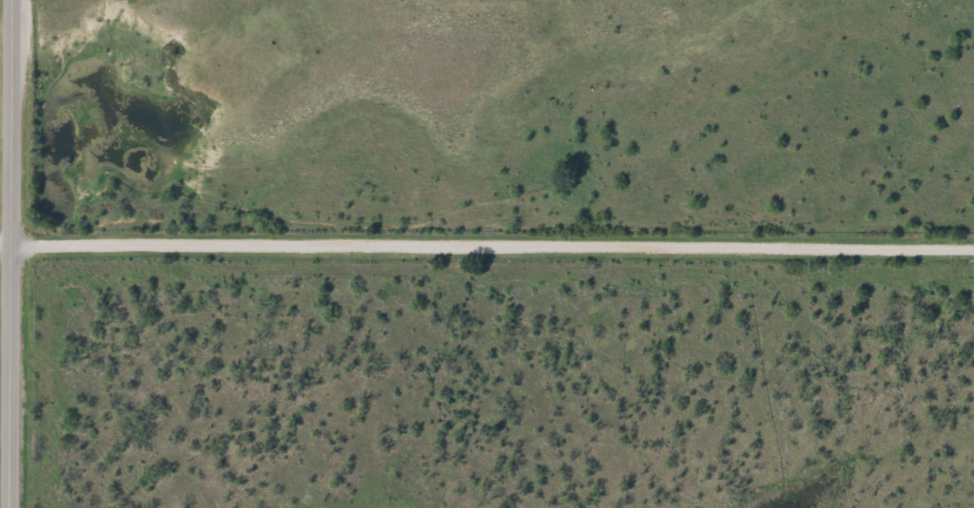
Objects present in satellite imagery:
road: (494, 244)
road: (14, 254)

